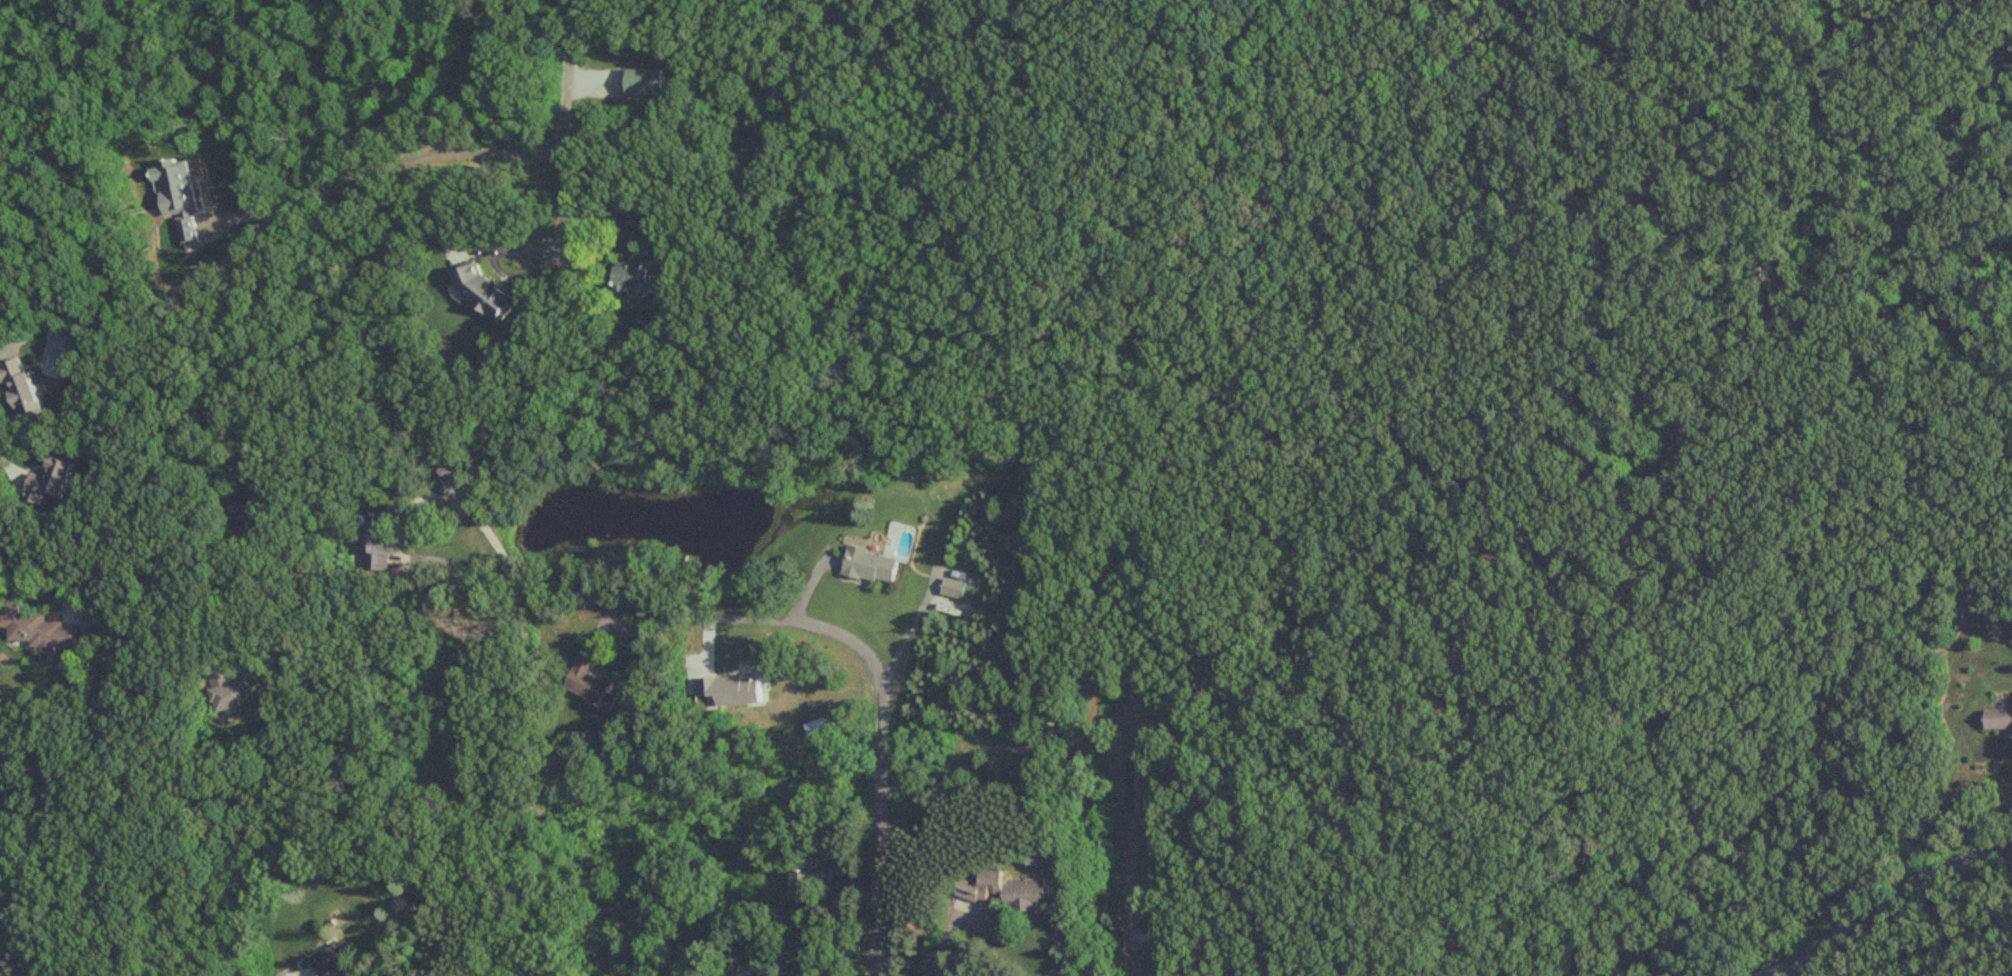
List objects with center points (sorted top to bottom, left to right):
building: (642, 83)
road: (566, 122)
road: (392, 163)
building: (639, 277)
building: (480, 293)
road: (11, 345)
building: (25, 388)
building: (449, 474)
building: (53, 482)
building: (375, 543)
road: (502, 552)
building: (868, 567)
road: (335, 579)
road: (46, 580)
building: (956, 590)
road: (512, 597)
building: (1967, 599)
road: (907, 624)
building: (40, 630)
road: (351, 639)
road: (877, 676)
building: (588, 683)
building: (223, 690)
building: (1999, 720)
building: (807, 882)
building: (1002, 892)
road: (1892, 904)
road: (944, 942)
building: (326, 960)

